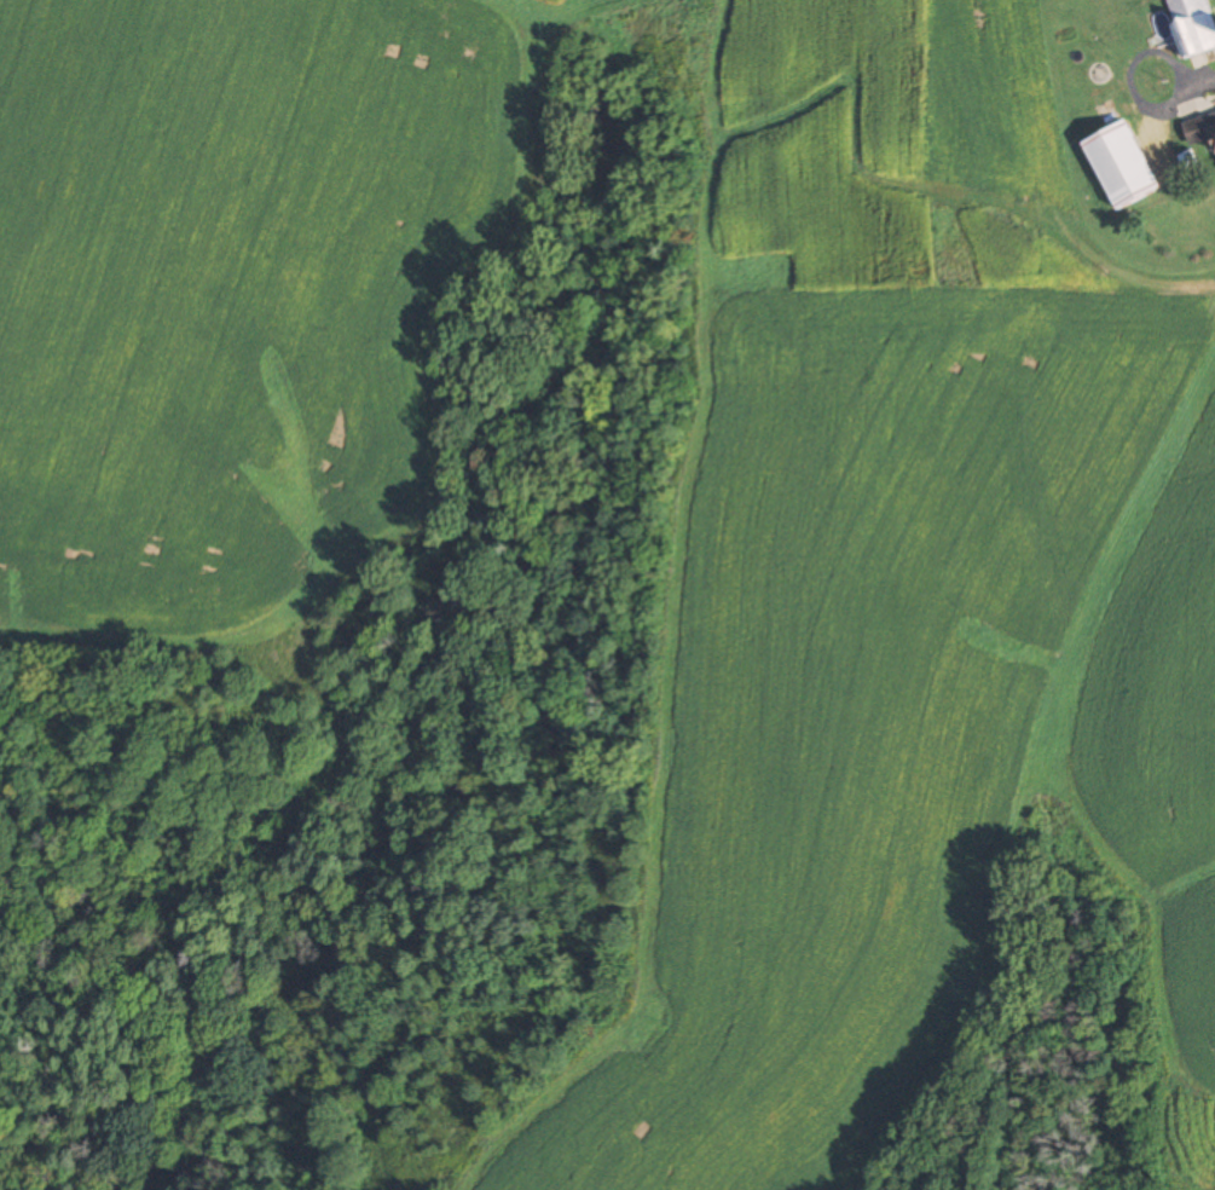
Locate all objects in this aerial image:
building: (1192, 24)
road: (1127, 77)
road: (1197, 79)
building: (1199, 128)
building: (1121, 164)

